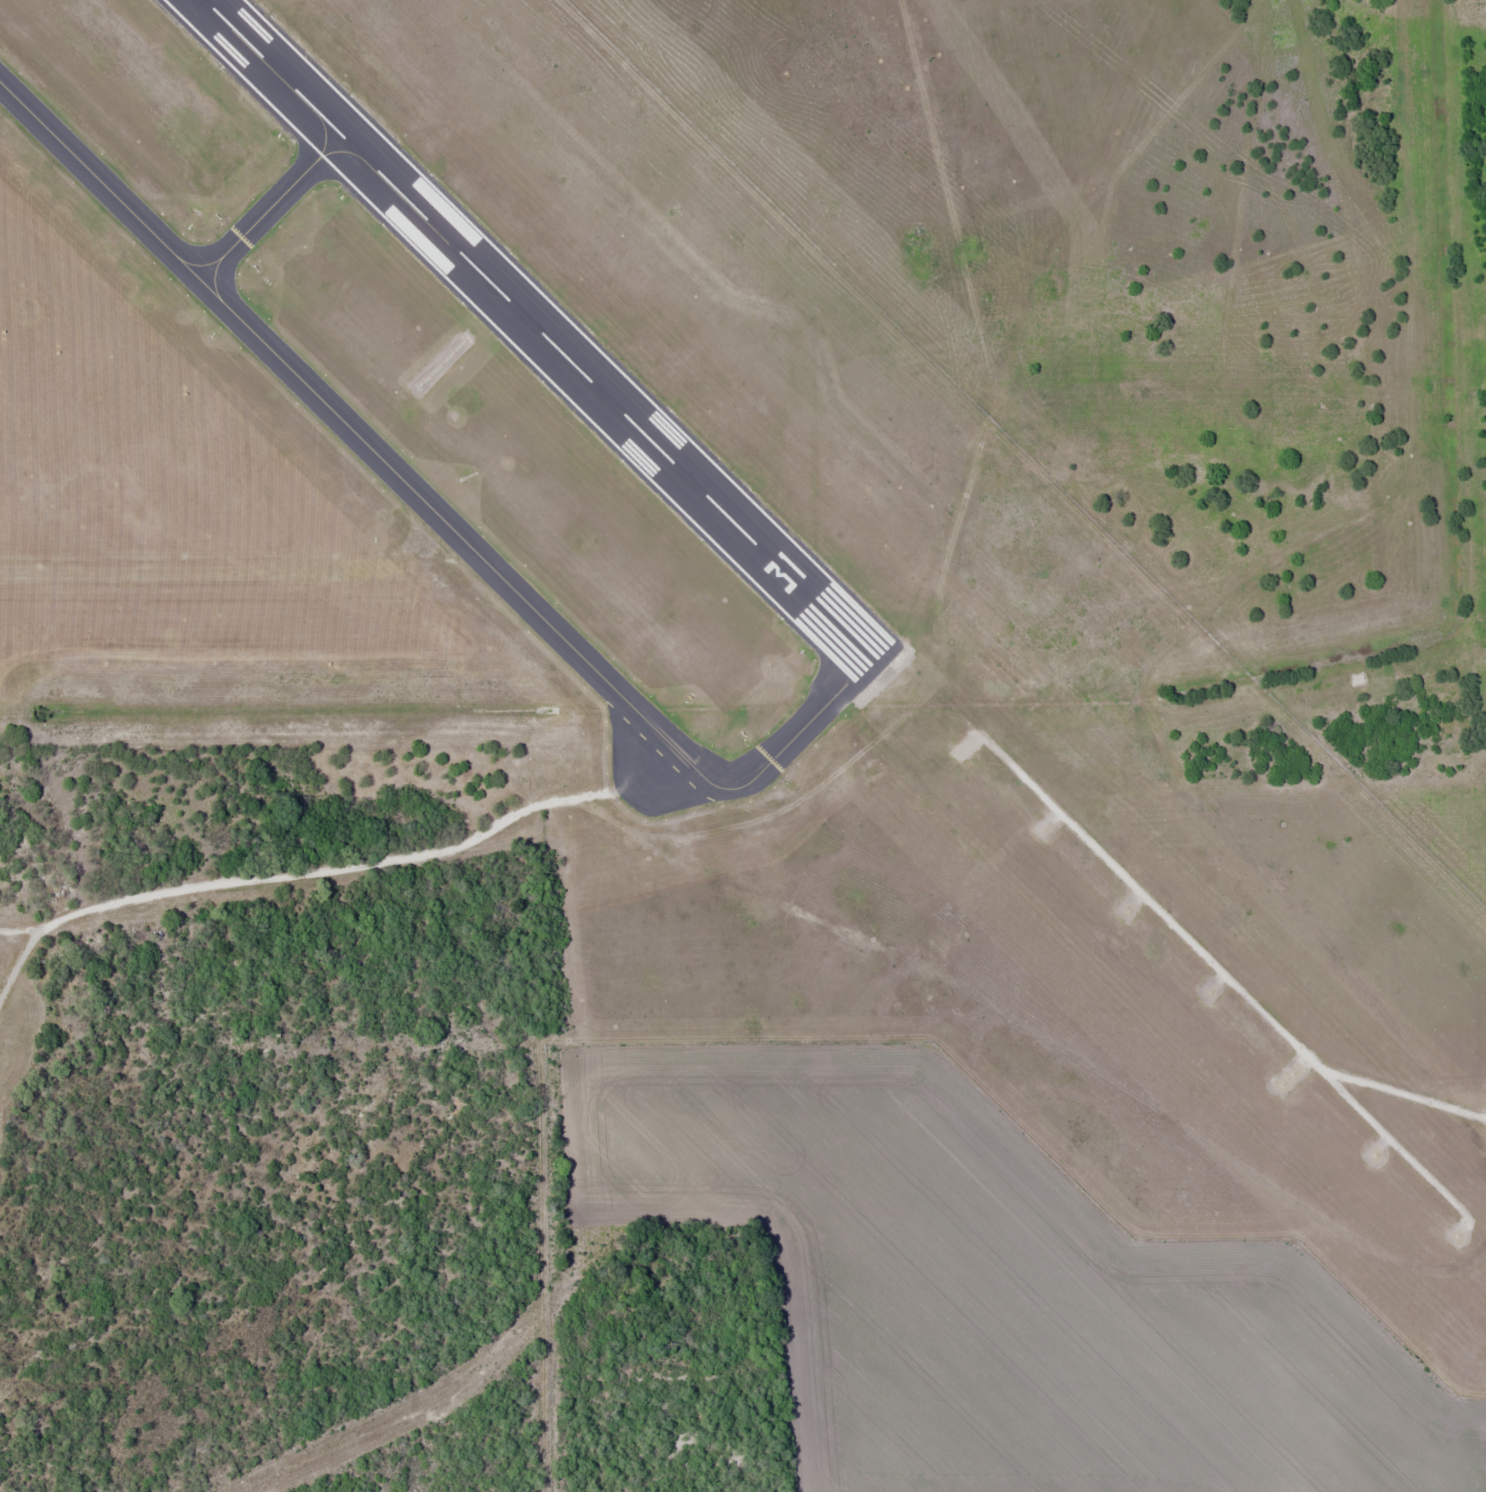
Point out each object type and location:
airport taxiway: (274, 216)
airport runway: (538, 333)
airport: (815, 508)
airport taxiway: (425, 509)
road: (287, 872)

